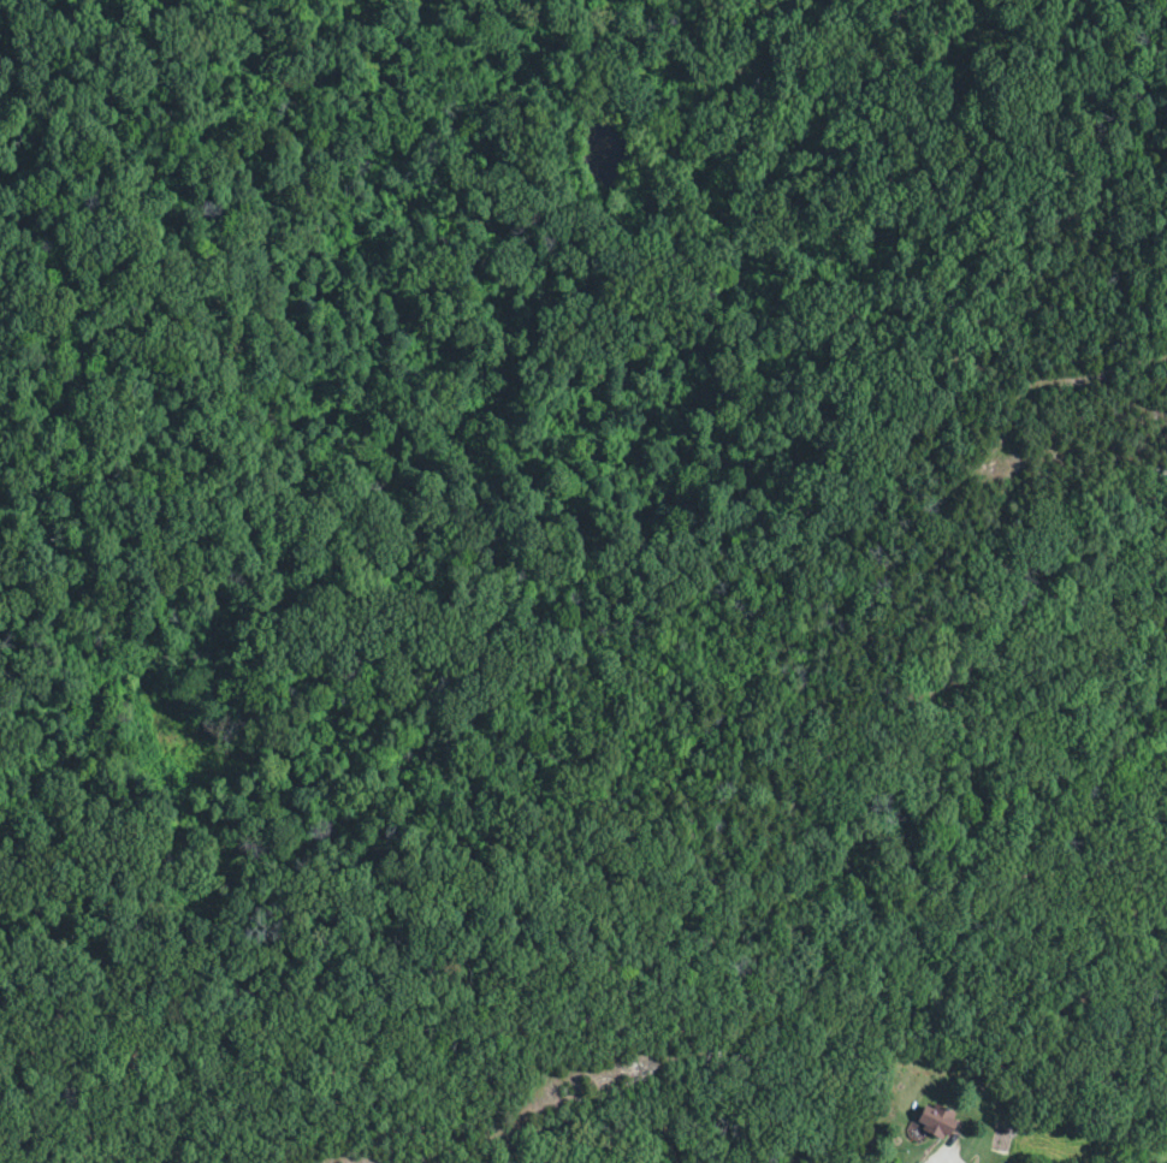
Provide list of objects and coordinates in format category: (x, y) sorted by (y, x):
building: (935, 1123)
road: (962, 1155)

